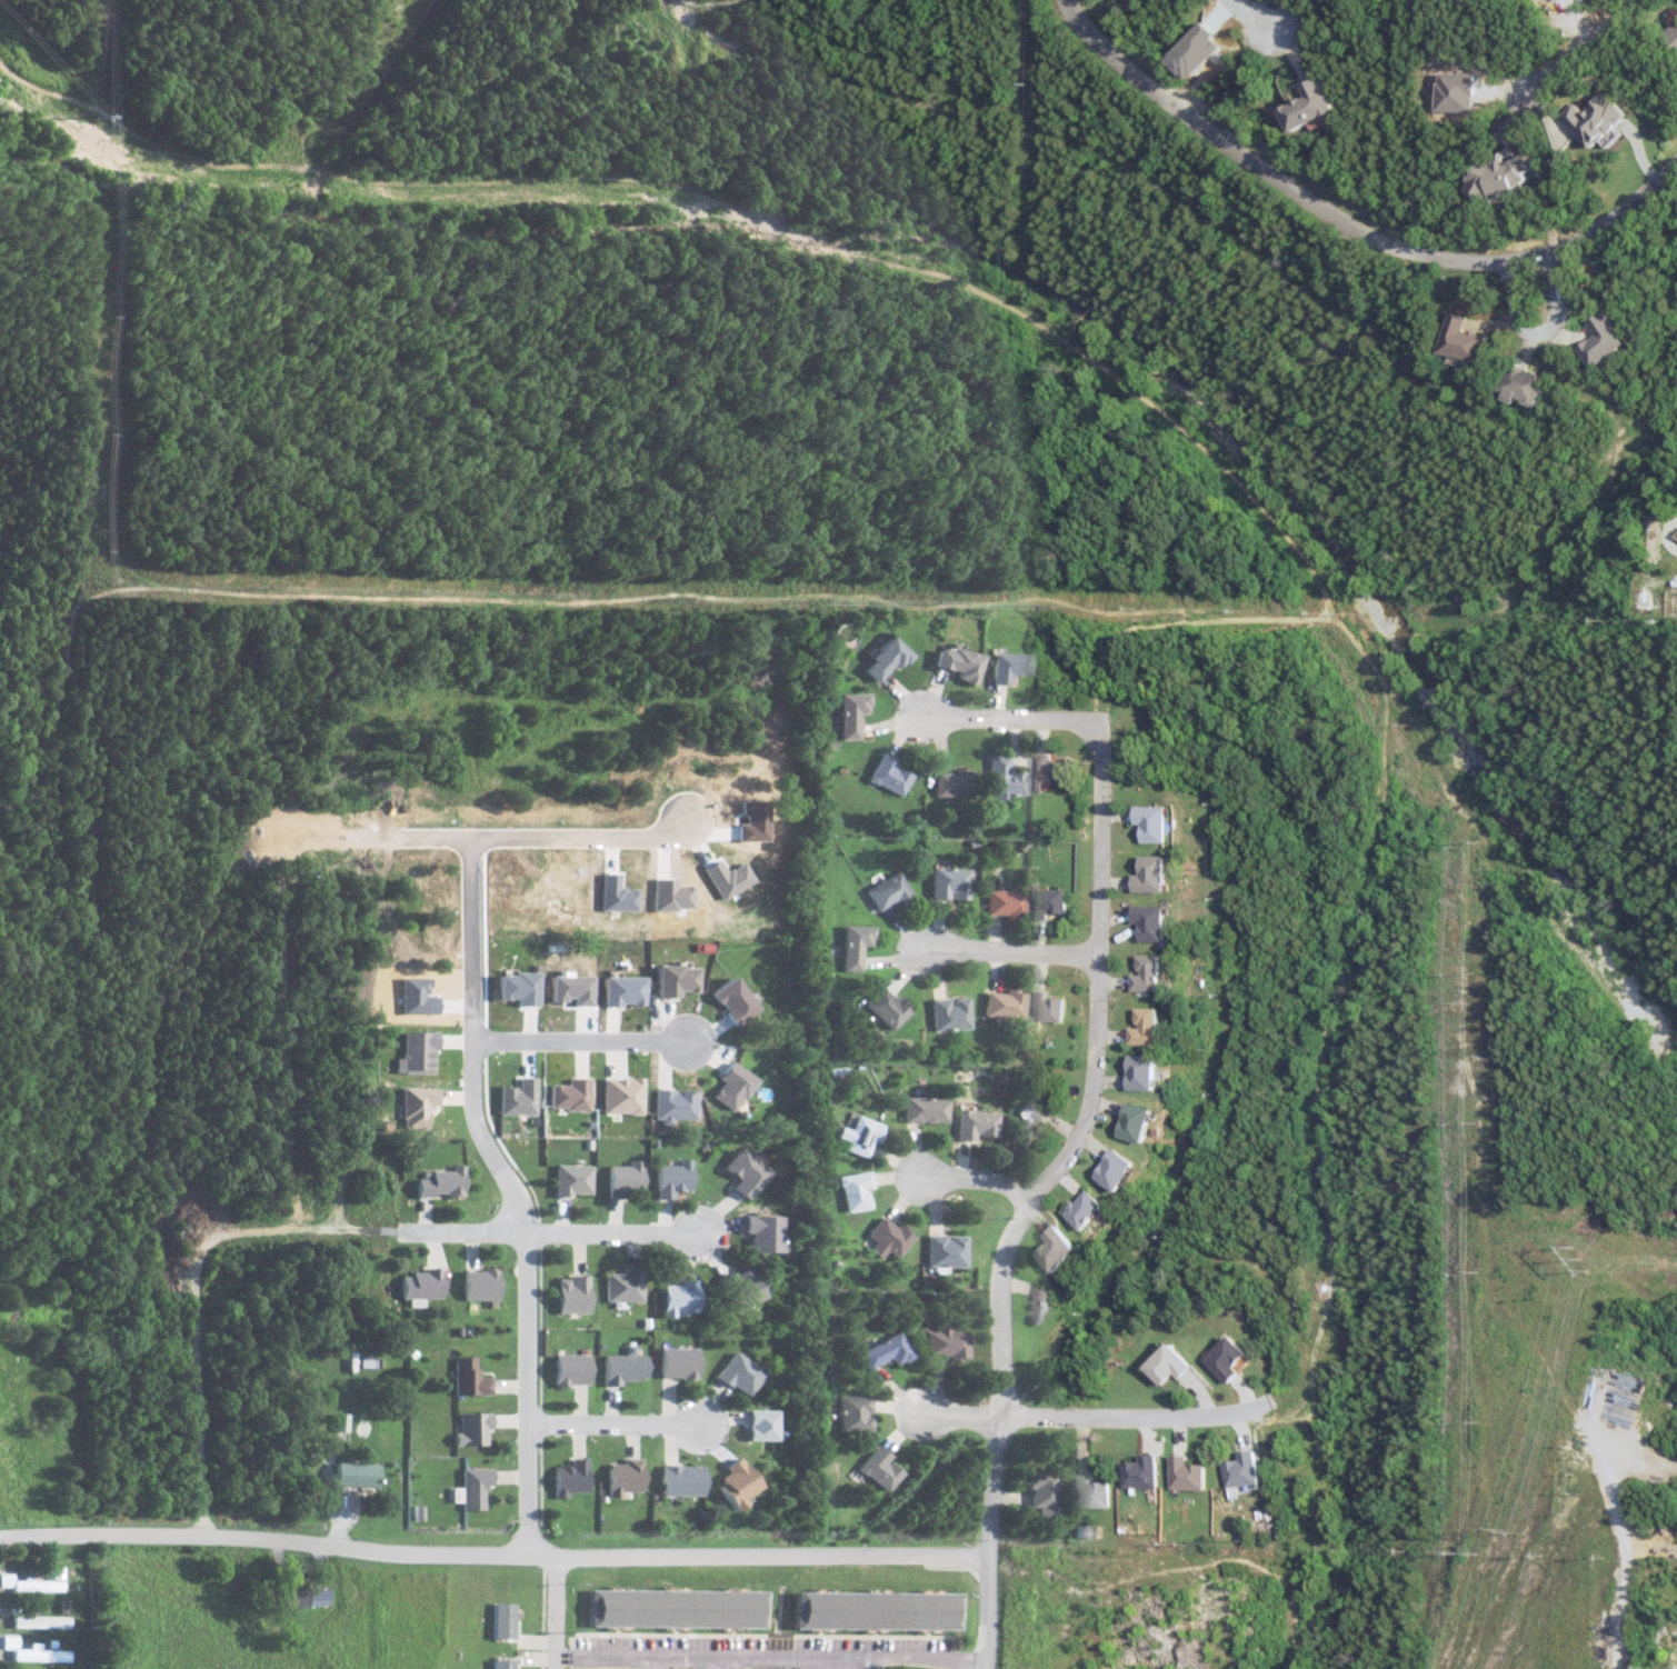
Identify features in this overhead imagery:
road: (1261, 16)
building: (1676, 33)
road: (1595, 41)
building: (1314, 106)
building: (1603, 118)
building: (1507, 176)
road: (1349, 223)
road: (1545, 332)
building: (1469, 338)
building: (1610, 341)
building: (1531, 384)
building: (888, 658)
building: (959, 662)
building: (1007, 666)
building: (855, 713)
road: (1024, 717)
building: (1050, 771)
building: (891, 773)
building: (1004, 777)
building: (955, 783)
building: (1160, 822)
building: (1161, 875)
building: (949, 882)
building: (888, 891)
building: (1006, 902)
building: (1052, 902)
building: (1160, 922)
building: (856, 945)
road: (1019, 951)
building: (1157, 973)
building: (677, 980)
building: (519, 987)
building: (572, 988)
building: (623, 990)
building: (733, 1000)
building: (1002, 1003)
building: (1051, 1007)
building: (887, 1008)
building: (949, 1013)
building: (1158, 1027)
road: (573, 1041)
building: (419, 1051)
road: (1305, 1052)
building: (1156, 1071)
road: (1104, 1082)
building: (732, 1086)
building: (570, 1095)
building: (623, 1095)
building: (519, 1097)
building: (675, 1105)
building: (418, 1106)
building: (924, 1109)
building: (1030, 1122)
building: (1151, 1122)
building: (972, 1125)
building: (859, 1135)
building: (1129, 1170)
building: (743, 1172)
building: (626, 1178)
building: (672, 1178)
building: (573, 1179)
road: (982, 1179)
building: (442, 1181)
building: (854, 1190)
building: (1095, 1209)
building: (761, 1232)
road: (487, 1235)
road: (619, 1236)
building: (886, 1237)
building: (1067, 1249)
building: (944, 1250)
building: (482, 1283)
building: (421, 1286)
building: (623, 1286)
building: (739, 1288)
road: (536, 1290)
building: (573, 1295)
building: (680, 1298)
building: (1046, 1302)
building: (939, 1342)
building: (882, 1351)
building: (1237, 1359)
building: (678, 1362)
building: (1177, 1365)
building: (625, 1368)
building: (573, 1369)
building: (737, 1373)
building: (470, 1378)
building: (852, 1413)
road: (1097, 1418)
building: (342, 1421)
road: (620, 1425)
building: (758, 1425)
building: (473, 1429)
building: (876, 1468)
building: (1251, 1471)
building: (1148, 1472)
building: (358, 1475)
building: (1194, 1475)
building: (626, 1477)
building: (571, 1478)
building: (682, 1480)
building: (736, 1483)
building: (473, 1488)
building: (1044, 1490)
building: (1096, 1492)
power tower: (1507, 1529)
road: (998, 1543)
road: (498, 1553)
building: (38, 1585)
building: (292, 1595)
building: (677, 1608)
building: (876, 1610)
building: (505, 1620)
building: (39, 1621)
building: (32, 1651)
road: (619, 1655)
road: (820, 1659)
building: (503, 1663)
road: (866, 1665)

